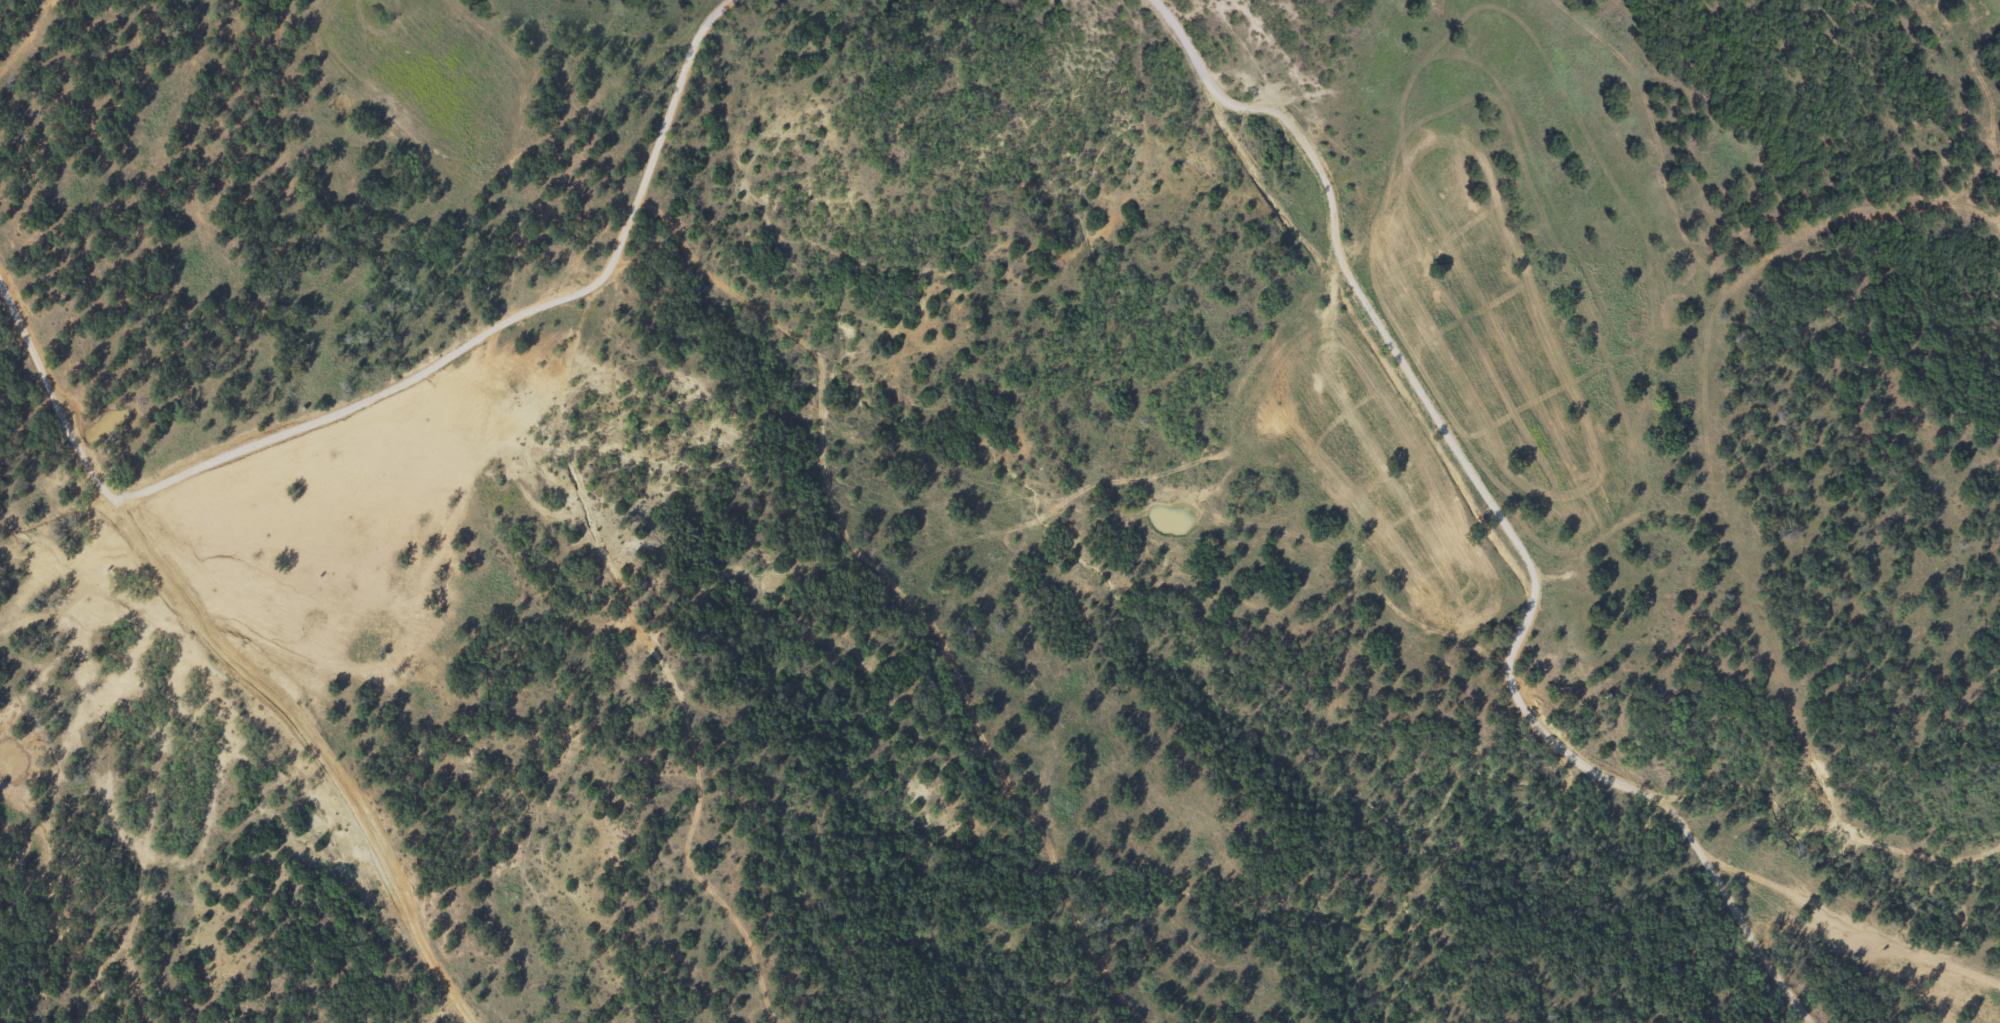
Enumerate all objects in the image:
road: (1395, 379)
road: (232, 656)

